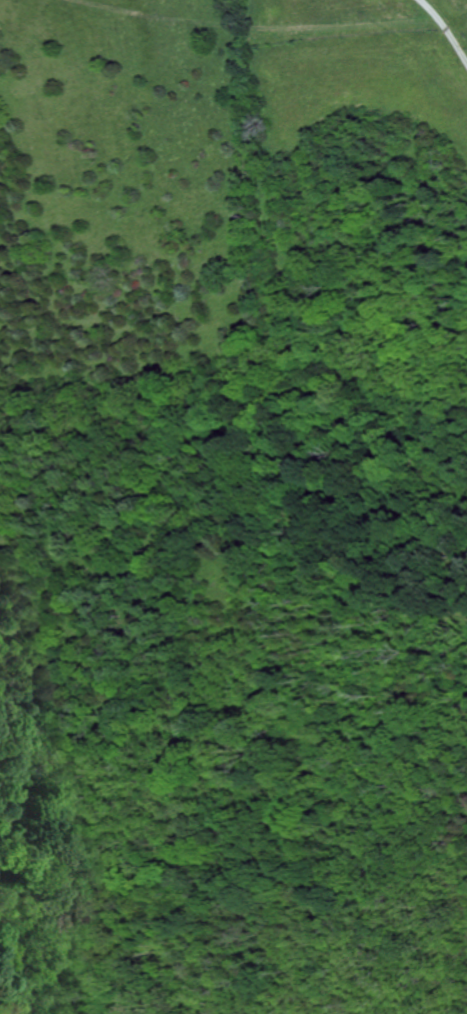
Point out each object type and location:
road: (448, 21)

